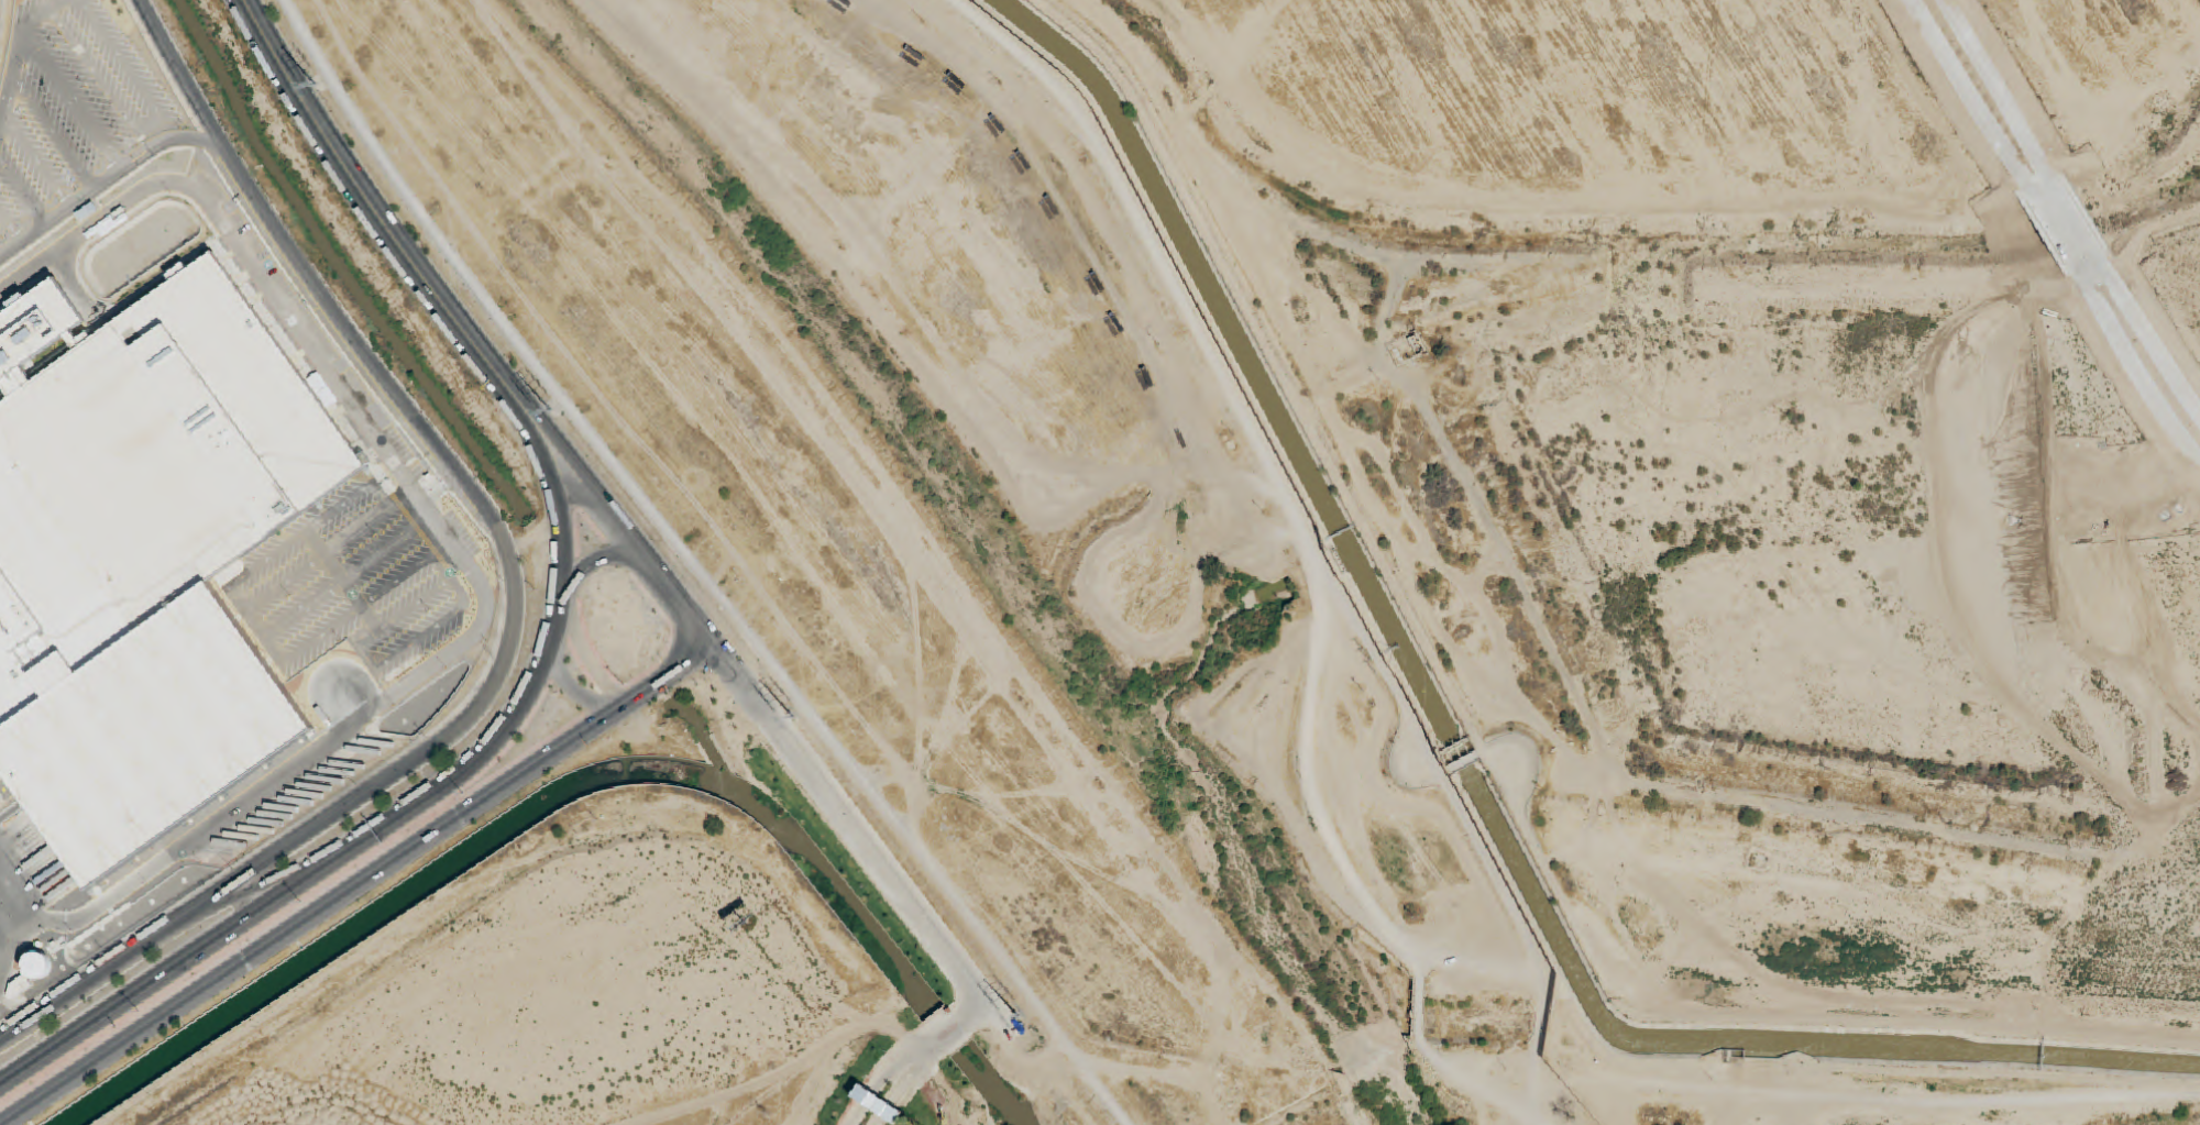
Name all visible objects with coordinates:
road: (58, 5)
road: (120, 58)
road: (15, 63)
road: (100, 82)
power tower: (315, 84)
road: (75, 99)
road: (2012, 113)
road: (1982, 119)
road: (54, 132)
road: (37, 161)
road: (105, 180)
road: (23, 192)
road: (367, 201)
road: (10, 228)
road: (2080, 232)
road: (2059, 242)
road: (2142, 329)
road: (364, 346)
road: (2127, 357)
power tower: (550, 407)
building: (146, 460)
road: (387, 492)
road: (575, 494)
road: (433, 497)
road: (305, 533)
road: (424, 542)
river: (990, 548)
road: (461, 558)
road: (324, 559)
road: (597, 562)
road: (708, 564)
road: (340, 582)
road: (341, 582)
road: (459, 591)
road: (241, 599)
road: (406, 611)
road: (348, 615)
road: (258, 624)
road: (426, 637)
road: (367, 660)
road: (576, 691)
building: (346, 698)
power tower: (793, 716)
road: (476, 799)
road: (409, 813)
road: (847, 817)
road: (242, 878)
road: (254, 894)
power tower: (1015, 1014)
road: (939, 1029)
road: (915, 1054)
road: (941, 1088)
road: (871, 1092)
road: (890, 1096)

